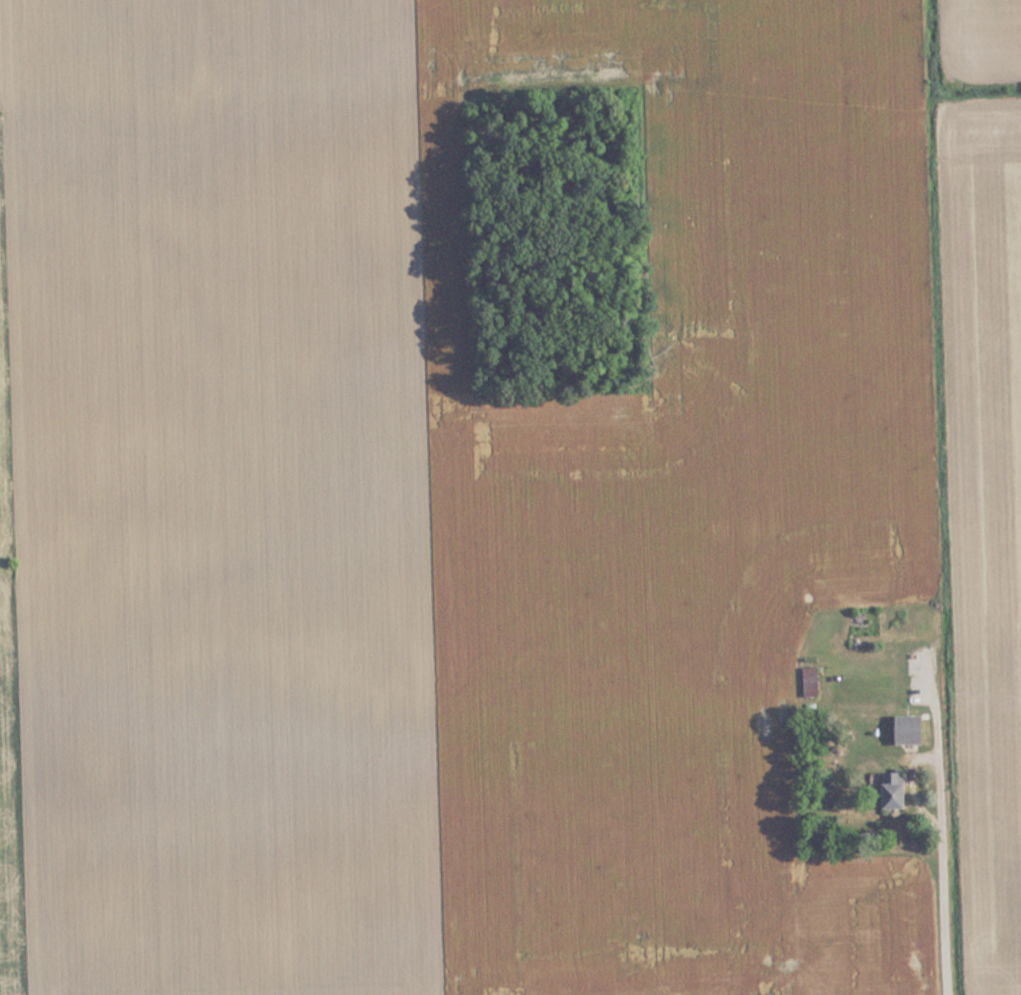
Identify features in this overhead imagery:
building: (812, 681)
building: (911, 728)
building: (891, 789)
road: (929, 902)

